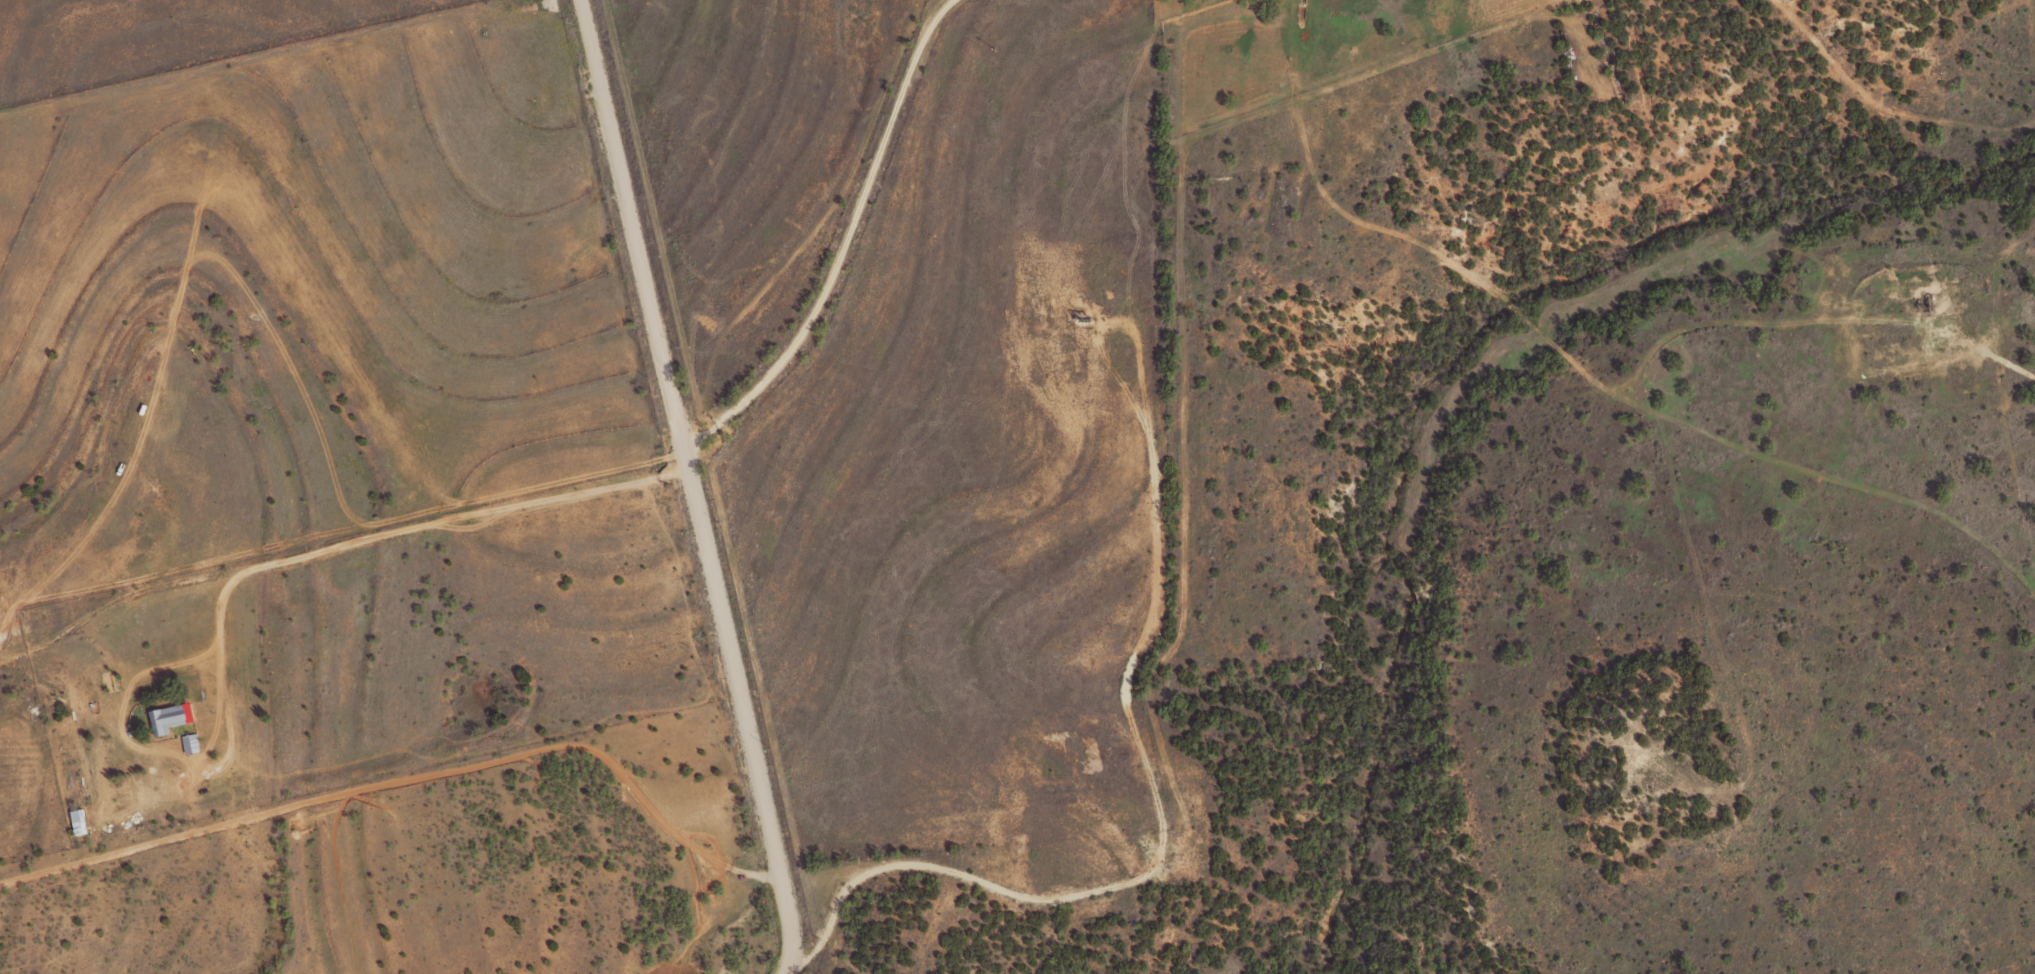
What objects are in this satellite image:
road: (846, 242)
road: (691, 479)
building: (168, 717)
building: (190, 743)
building: (78, 821)
road: (829, 963)
road: (785, 967)

